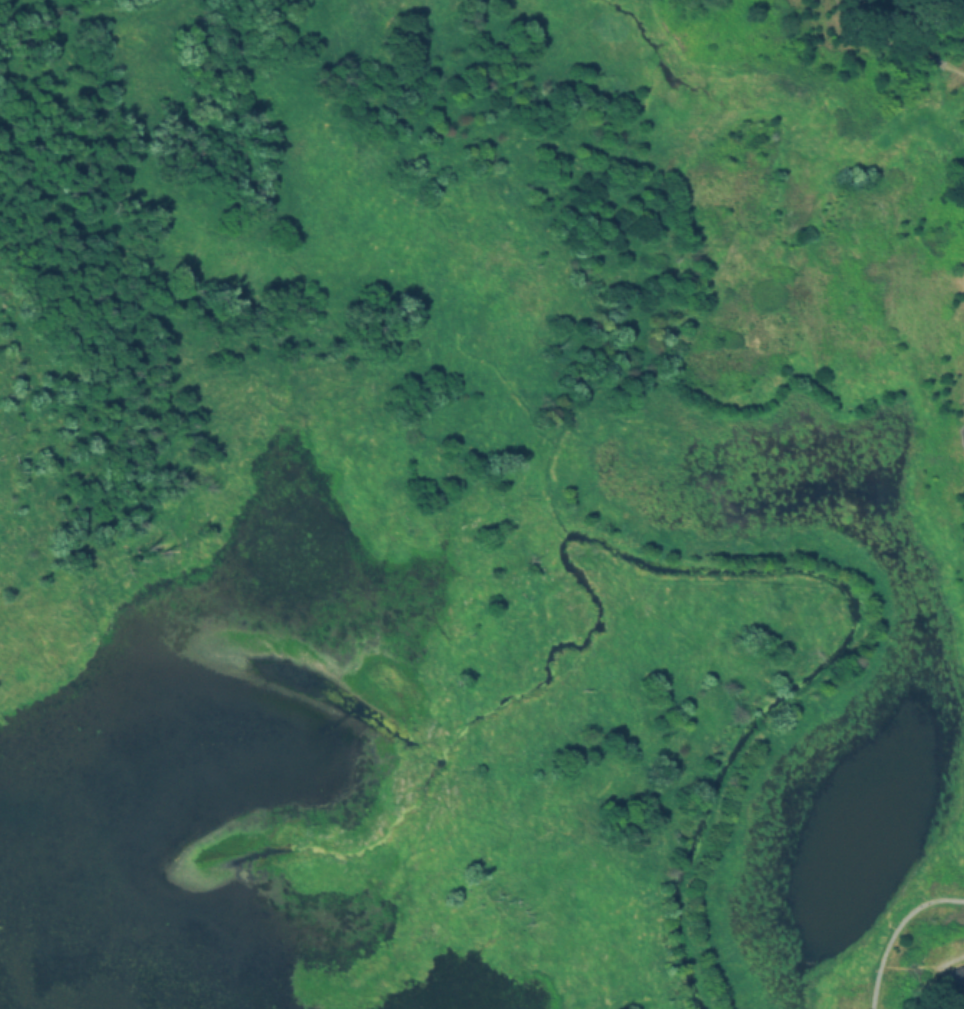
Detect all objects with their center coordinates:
road: (895, 42)
road: (895, 929)
building: (956, 977)

